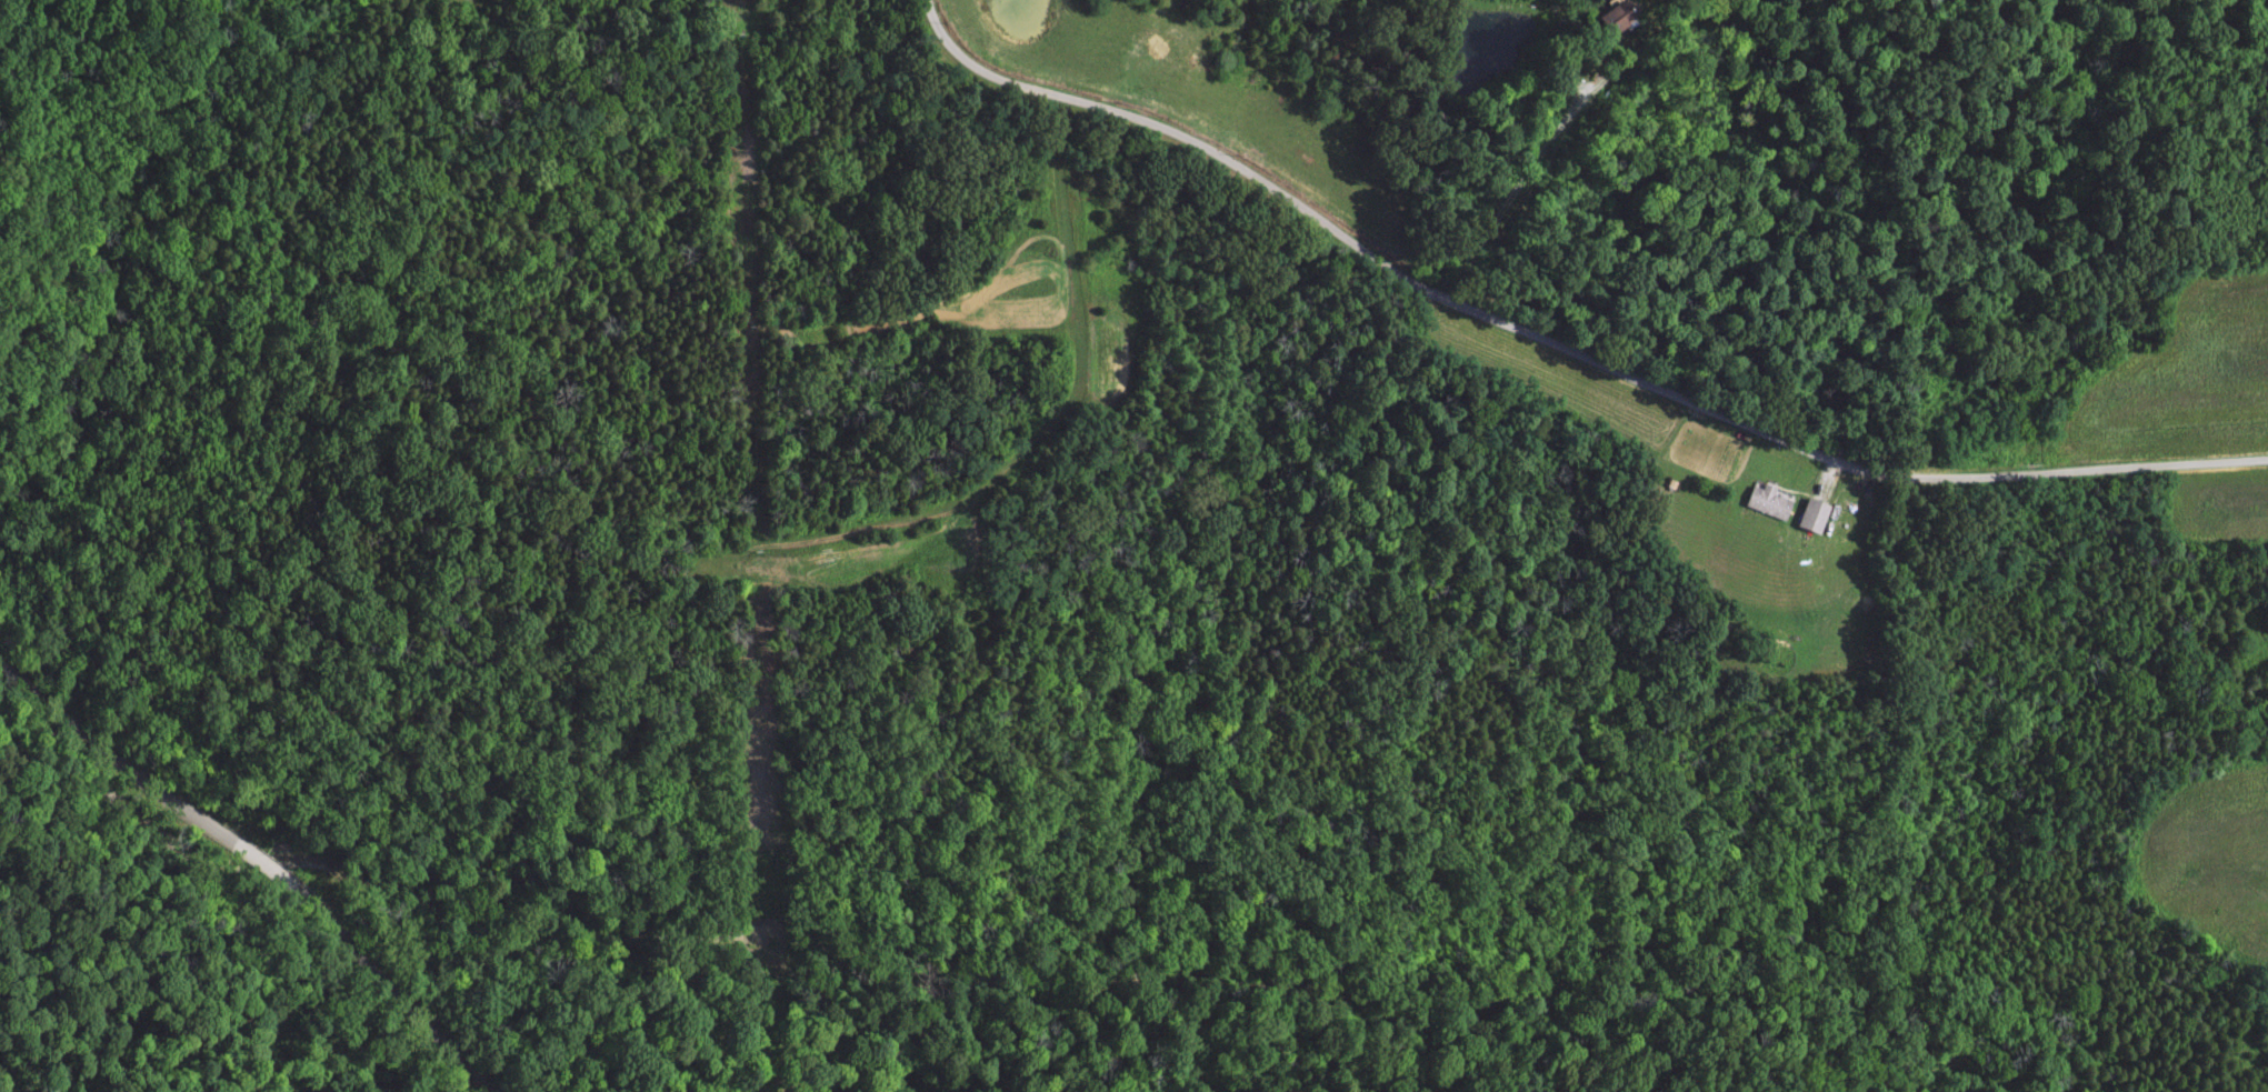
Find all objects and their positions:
building: (1607, 24)
road: (1525, 182)
road: (1558, 343)
building: (1764, 509)
building: (1807, 523)
road: (264, 855)

